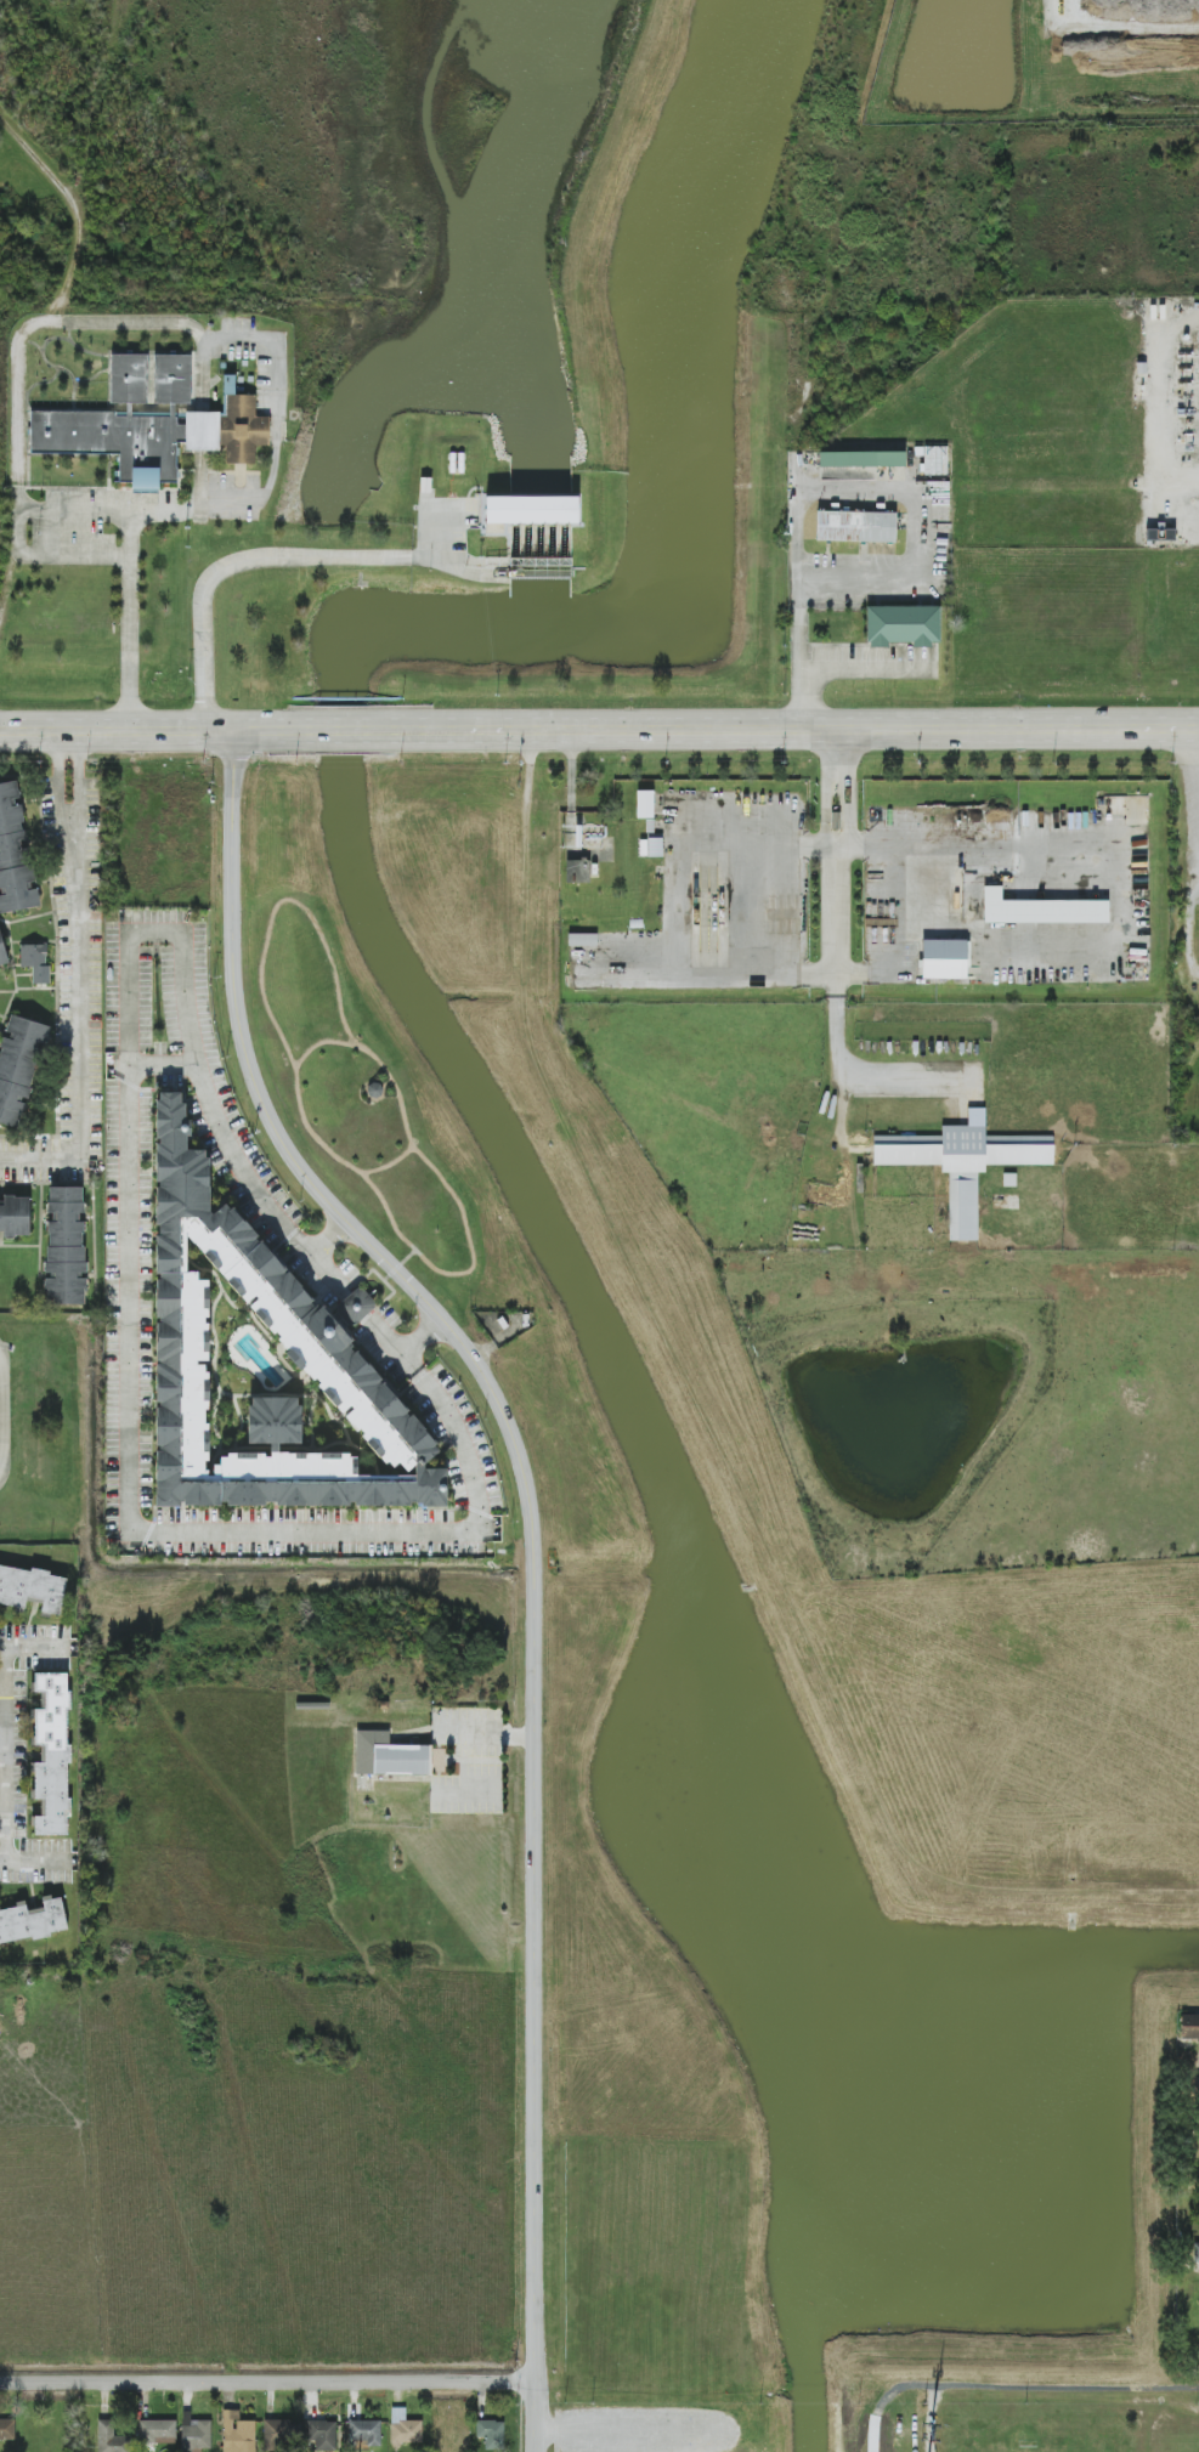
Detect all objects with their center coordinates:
road: (138, 321)
road: (1163, 392)
building: (861, 459)
road: (876, 488)
road: (200, 504)
road: (106, 511)
building: (528, 511)
building: (855, 526)
building: (1160, 533)
road: (230, 561)
road: (6, 584)
building: (903, 625)
road: (822, 658)
road: (145, 729)
road: (357, 729)
road: (811, 729)
road: (77, 774)
road: (61, 775)
building: (644, 804)
road: (833, 848)
building: (13, 855)
building: (577, 871)
building: (1041, 910)
road: (316, 925)
building: (582, 939)
building: (2, 952)
building: (944, 959)
building: (35, 962)
road: (79, 1027)
road: (322, 1042)
road: (163, 1064)
building: (18, 1066)
building: (962, 1163)
road: (390, 1165)
building: (15, 1216)
road: (329, 1239)
building: (66, 1247)
road: (414, 1250)
road: (406, 1259)
road: (128, 1302)
road: (355, 1304)
road: (423, 1337)
building: (262, 1369)
road: (1, 1415)
road: (532, 1544)
building: (32, 1589)
road: (36, 1649)
road: (2, 1754)
road: (6, 1755)
building: (51, 1755)
building: (390, 1756)
road: (36, 1862)
building: (32, 1920)
building: (1189, 2026)
building: (1195, 2253)
road: (267, 2382)
road: (1009, 2384)
building: (405, 2428)
building: (7, 2430)
building: (157, 2431)
building: (237, 2433)
building: (277, 2433)
building: (364, 2433)
building: (491, 2434)
building: (196, 2435)
building: (323, 2435)
building: (112, 2439)
park: (1026, 2448)

